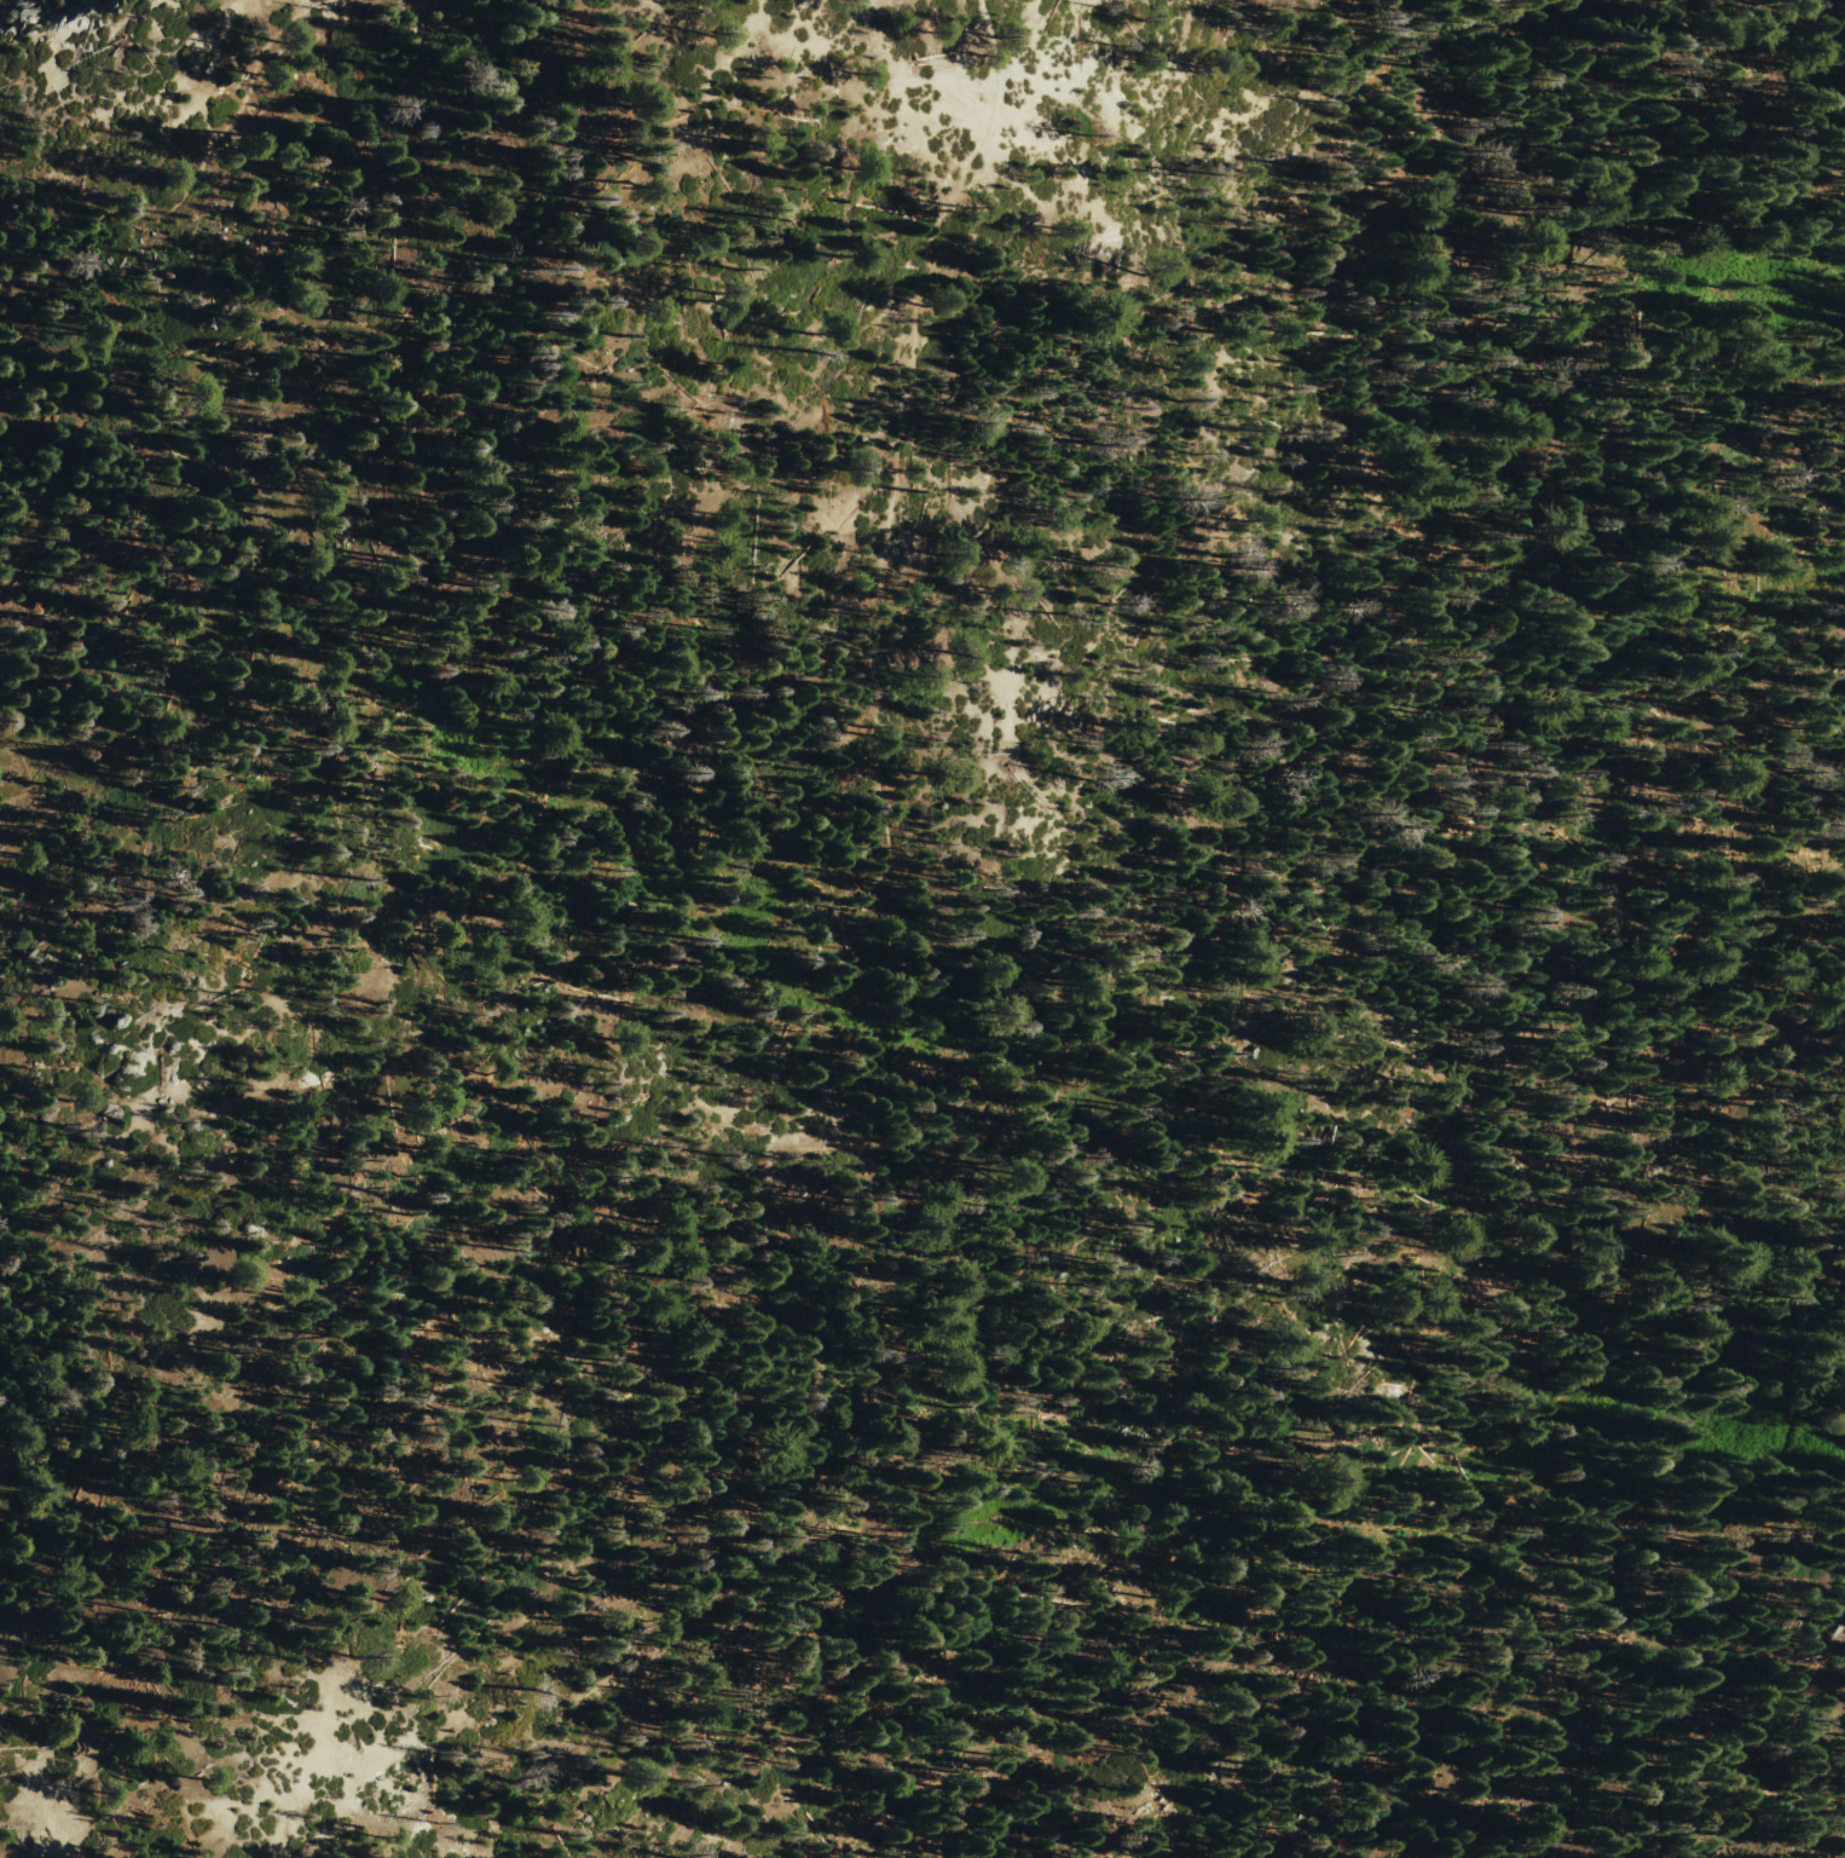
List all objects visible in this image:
road: (268, 47)
road: (415, 772)
road: (889, 1141)

